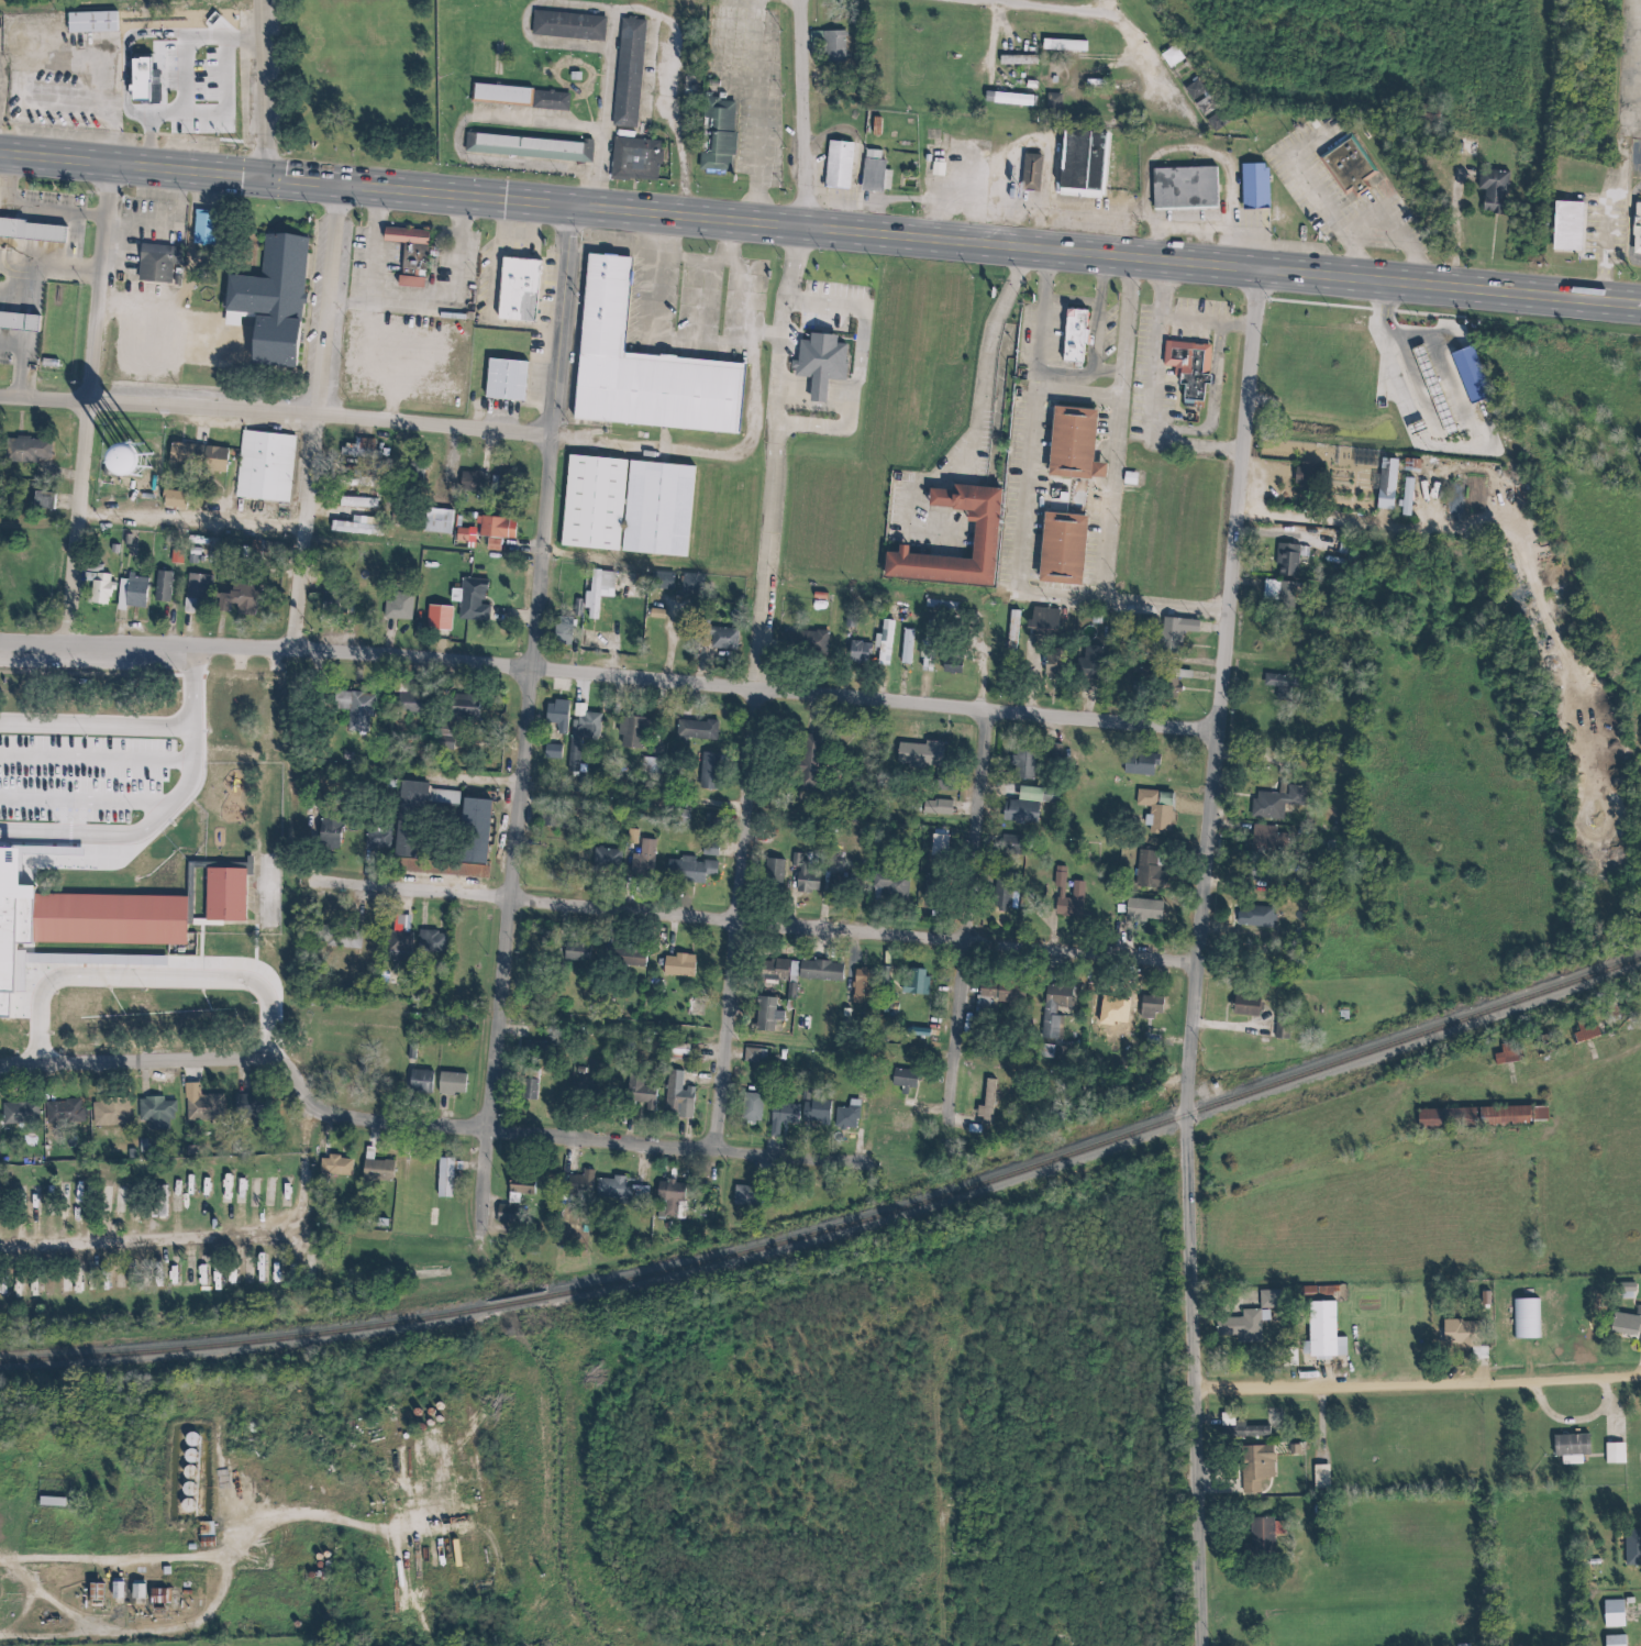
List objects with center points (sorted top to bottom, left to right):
building: (122, 0)
road: (1120, 9)
road: (610, 10)
building: (91, 21)
building: (182, 21)
building: (568, 24)
road: (1132, 26)
building: (834, 47)
building: (1018, 60)
building: (641, 70)
building: (575, 75)
road: (662, 75)
building: (23, 79)
building: (164, 79)
building: (47, 81)
road: (270, 89)
building: (501, 93)
building: (563, 99)
building: (1010, 99)
building: (1054, 104)
building: (1208, 104)
road: (686, 110)
road: (768, 111)
road: (807, 113)
building: (1220, 120)
road: (470, 139)
building: (734, 139)
building: (541, 145)
road: (1202, 151)
building: (647, 158)
building: (1360, 162)
building: (1096, 164)
building: (852, 165)
building: (1032, 174)
building: (874, 176)
building: (1266, 183)
road: (1320, 184)
building: (1200, 187)
building: (1494, 192)
road: (1387, 218)
building: (1583, 221)
building: (1566, 227)
road: (820, 228)
road: (1621, 228)
building: (1637, 229)
building: (31, 231)
road: (740, 241)
road: (388, 243)
road: (470, 251)
building: (424, 252)
building: (410, 255)
road: (713, 259)
road: (444, 261)
building: (157, 262)
road: (665, 275)
building: (519, 289)
road: (401, 300)
road: (710, 300)
building: (284, 301)
road: (758, 305)
road: (840, 306)
road: (1371, 307)
road: (1215, 319)
building: (19, 321)
building: (1088, 332)
building: (1074, 336)
road: (707, 342)
road: (1105, 344)
building: (833, 358)
building: (49, 362)
building: (644, 366)
building: (1196, 367)
building: (1384, 374)
building: (520, 376)
road: (868, 384)
road: (1156, 402)
road: (98, 404)
road: (1223, 409)
road: (281, 413)
road: (326, 417)
road: (1044, 420)
road: (847, 428)
road: (994, 429)
building: (1086, 442)
building: (30, 451)
building: (198, 451)
road: (718, 452)
road: (786, 456)
building: (229, 459)
building: (214, 461)
building: (101, 464)
building: (277, 465)
water tower: (145, 467)
building: (417, 474)
building: (1306, 477)
building: (474, 482)
building: (498, 483)
building: (1386, 485)
road: (1123, 494)
building: (1406, 497)
building: (189, 500)
building: (44, 501)
building: (594, 502)
building: (358, 504)
building: (658, 508)
road: (204, 521)
building: (439, 521)
building: (509, 526)
building: (355, 529)
building: (998, 531)
building: (479, 534)
building: (507, 542)
road: (533, 546)
building: (1076, 548)
building: (1287, 561)
building: (663, 582)
building: (99, 583)
building: (165, 588)
building: (599, 590)
building: (132, 592)
road: (1071, 593)
building: (202, 596)
building: (1279, 596)
building: (237, 597)
building: (487, 598)
building: (412, 605)
building: (399, 608)
building: (944, 609)
road: (523, 614)
building: (1042, 622)
building: (1180, 630)
building: (1013, 631)
building: (563, 634)
building: (733, 634)
road: (401, 637)
building: (885, 643)
building: (805, 644)
building: (907, 648)
building: (860, 653)
building: (928, 656)
road: (713, 658)
building: (1054, 663)
building: (952, 664)
building: (1090, 665)
road: (613, 674)
road: (141, 675)
building: (1141, 682)
building: (1172, 683)
building: (1280, 684)
road: (43, 703)
building: (412, 704)
building: (464, 709)
building: (361, 711)
building: (557, 717)
road: (535, 720)
building: (590, 726)
building: (697, 731)
building: (632, 733)
building: (444, 741)
building: (554, 752)
building: (1056, 753)
building: (919, 754)
building: (810, 759)
road: (231, 762)
building: (1023, 764)
building: (1141, 764)
building: (652, 766)
building: (709, 772)
building: (56, 780)
building: (1052, 796)
building: (1276, 803)
building: (936, 807)
building: (1022, 808)
building: (1156, 809)
building: (409, 820)
building: (468, 827)
road: (203, 830)
building: (330, 835)
building: (378, 836)
building: (1266, 840)
building: (1009, 844)
building: (939, 850)
road: (281, 853)
building: (644, 860)
building: (608, 861)
building: (690, 871)
building: (1150, 871)
building: (1261, 875)
building: (774, 876)
building: (808, 879)
building: (844, 885)
building: (892, 885)
building: (225, 893)
building: (1067, 895)
road: (25, 904)
building: (1141, 910)
building: (111, 918)
road: (976, 918)
building: (1260, 918)
road: (744, 919)
road: (755, 921)
building: (343, 936)
road: (240, 938)
building: (400, 938)
building: (429, 943)
building: (464, 952)
building: (574, 953)
road: (1198, 959)
building: (627, 960)
building: (678, 964)
building: (773, 969)
building: (821, 971)
building: (918, 984)
building: (862, 985)
building: (1009, 998)
building: (1245, 1006)
building: (983, 1007)
building: (1152, 1007)
building: (1055, 1008)
building: (765, 1015)
building: (1118, 1016)
building: (1585, 1032)
building: (532, 1052)
building: (756, 1056)
road: (170, 1060)
building: (903, 1080)
building: (421, 1082)
building: (452, 1084)
building: (529, 1085)
building: (586, 1086)
road: (1401, 1093)
building: (680, 1097)
building: (646, 1100)
building: (988, 1103)
building: (882, 1104)
building: (752, 1106)
building: (251, 1108)
building: (204, 1109)
building: (64, 1113)
building: (20, 1115)
building: (111, 1115)
building: (798, 1115)
building: (156, 1116)
building: (847, 1117)
building: (1483, 1118)
building: (901, 1125)
road: (588, 1139)
building: (344, 1169)
building: (377, 1172)
building: (445, 1179)
building: (583, 1183)
building: (520, 1190)
building: (620, 1192)
building: (91, 1194)
building: (237, 1197)
building: (749, 1197)
building: (69, 1198)
building: (670, 1200)
building: (160, 1203)
building: (507, 1215)
railway: (835, 1228)
road: (209, 1233)
building: (1627, 1325)
building: (1243, 1327)
building: (1321, 1330)
road: (1413, 1384)
building: (402, 1414)
building: (1245, 1430)
building: (363, 1440)
building: (1573, 1446)
building: (1615, 1454)
building: (1256, 1468)
building: (48, 1503)
road: (354, 1528)
building: (206, 1535)
building: (1260, 1538)
building: (1632, 1548)
road: (111, 1557)
building: (384, 1572)
building: (117, 1591)
building: (136, 1591)
building: (157, 1597)
road: (40, 1600)
building: (1612, 1614)
road: (196, 1617)
building: (1615, 1641)

